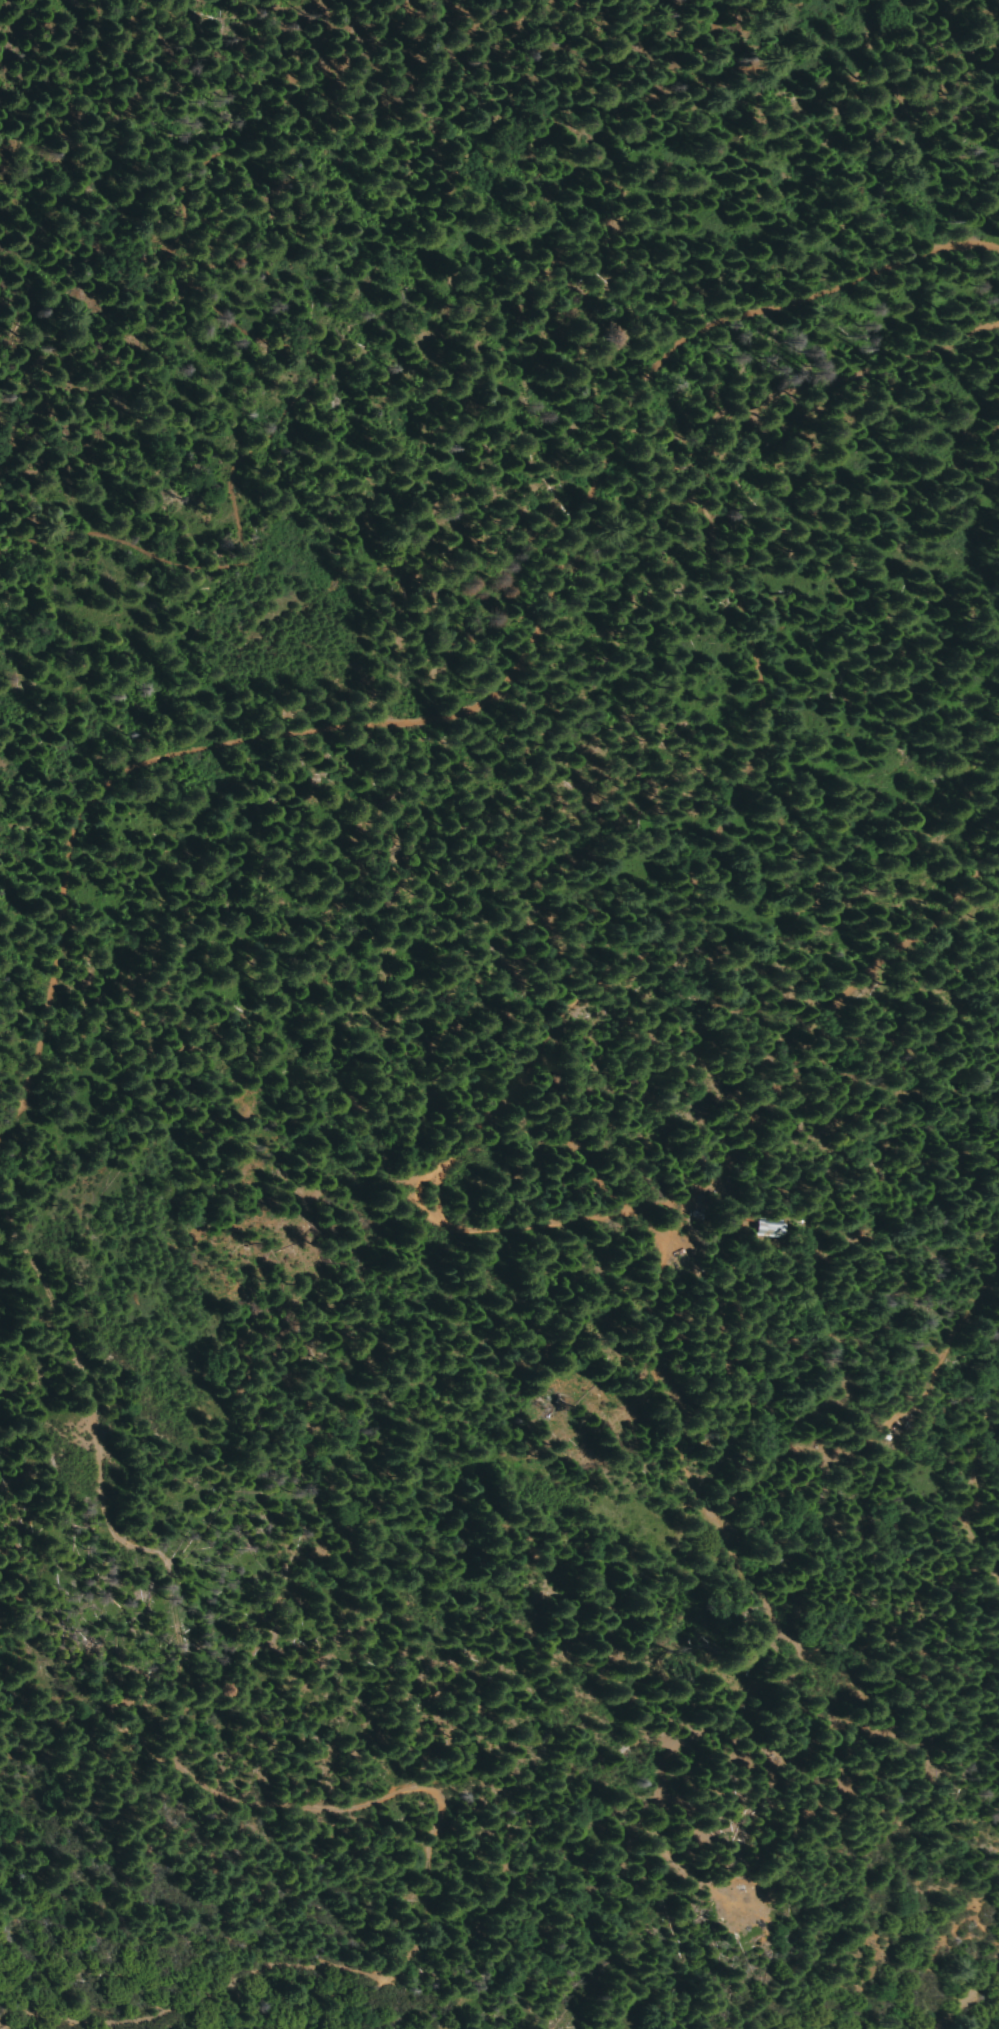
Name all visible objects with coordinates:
road: (487, 717)
crop: (162, 1264)

